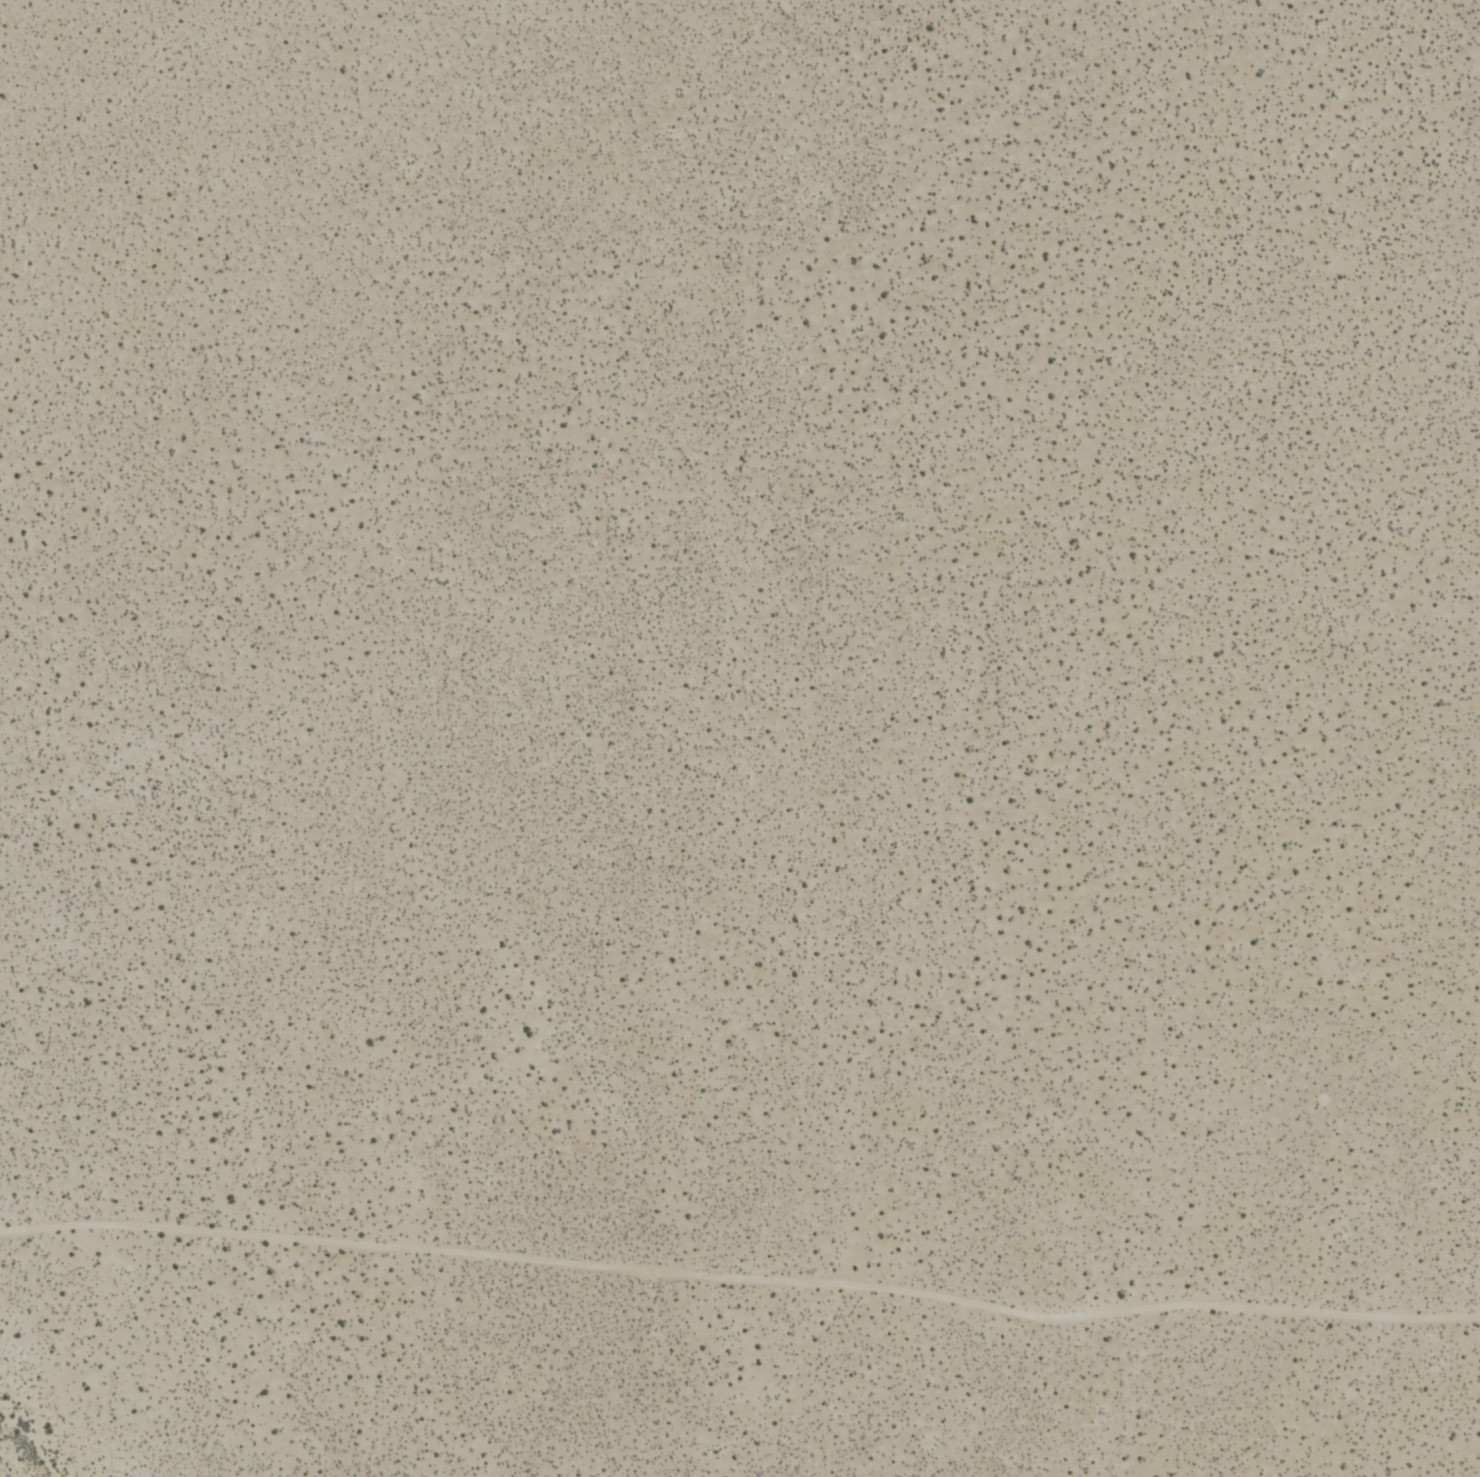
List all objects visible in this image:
road: (739, 1260)

